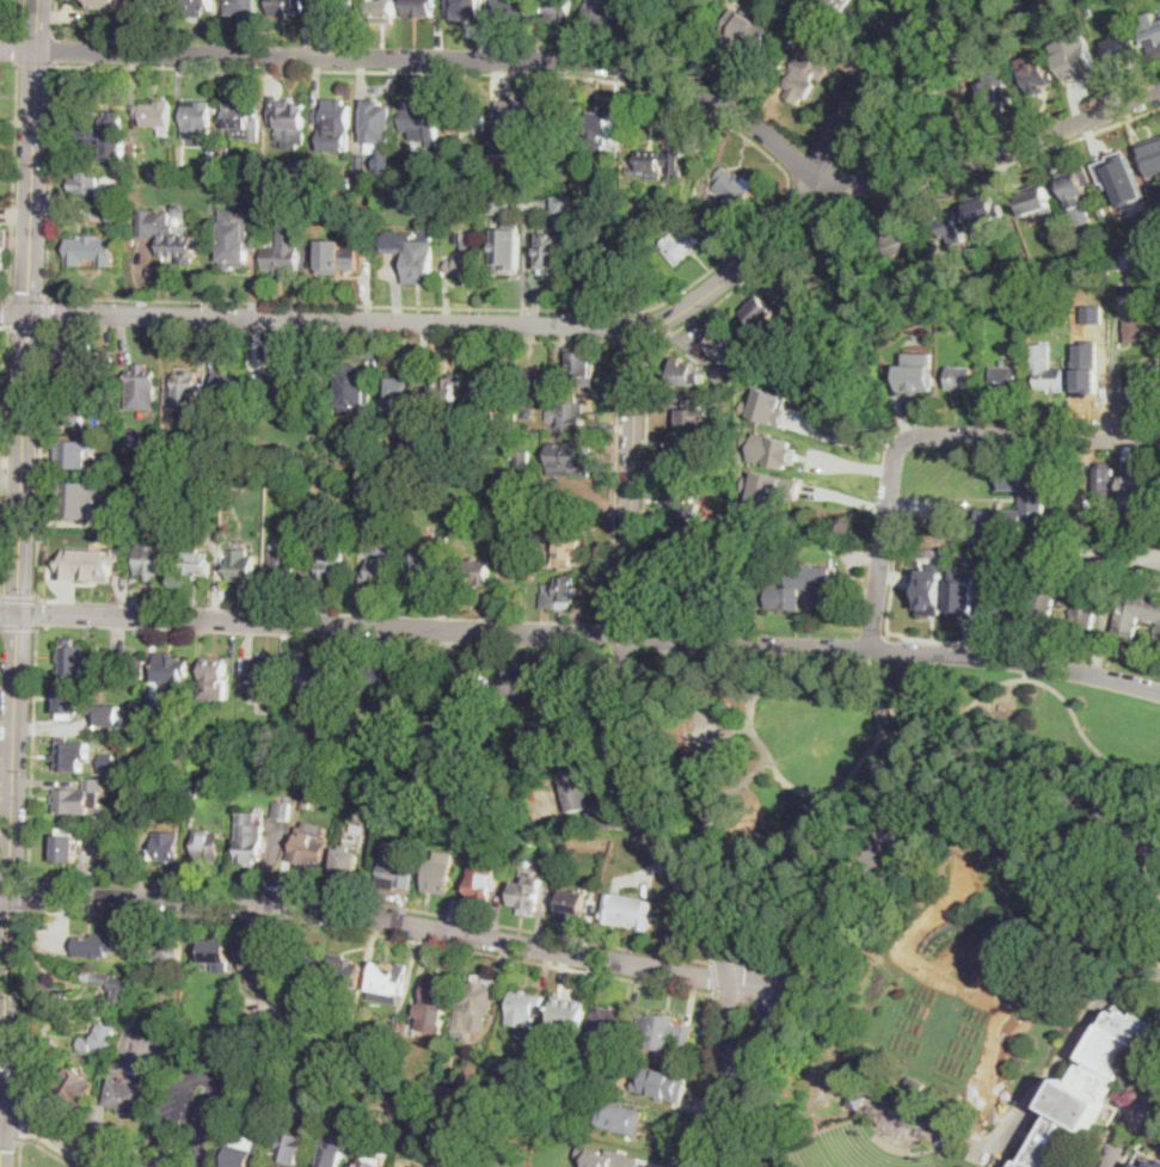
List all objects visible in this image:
building: (847, 0)
building: (1054, 0)
building: (1044, 1)
building: (105, 4)
building: (161, 5)
building: (243, 6)
building: (198, 7)
building: (287, 7)
building: (381, 7)
building: (422, 7)
building: (331, 8)
building: (469, 8)
building: (511, 10)
building: (560, 10)
building: (600, 16)
road: (20, 17)
road: (56, 17)
building: (649, 24)
building: (747, 30)
building: (1152, 32)
building: (1122, 45)
building: (992, 47)
road: (56, 48)
road: (19, 49)
road: (424, 57)
building: (1081, 63)
building: (808, 67)
building: (1038, 79)
road: (939, 82)
road: (858, 84)
road: (921, 97)
building: (995, 97)
building: (156, 116)
building: (290, 118)
building: (198, 119)
building: (335, 119)
building: (419, 119)
building: (243, 121)
building: (511, 121)
building: (466, 122)
building: (379, 125)
building: (553, 127)
building: (600, 133)
building: (105, 137)
building: (134, 151)
building: (213, 152)
road: (990, 153)
building: (180, 154)
building: (223, 154)
road: (32, 156)
building: (1153, 160)
building: (662, 164)
road: (996, 167)
building: (362, 170)
building: (449, 172)
building: (293, 176)
road: (51, 179)
building: (499, 179)
road: (14, 180)
building: (382, 182)
road: (833, 182)
building: (87, 183)
building: (346, 183)
building: (465, 186)
building: (1075, 186)
building: (734, 189)
building: (253, 194)
road: (786, 194)
building: (708, 197)
road: (805, 197)
building: (299, 202)
building: (1037, 202)
building: (501, 204)
building: (564, 207)
building: (178, 208)
building: (984, 209)
building: (116, 214)
building: (1141, 222)
building: (950, 227)
building: (166, 235)
building: (1156, 239)
building: (900, 241)
building: (2, 242)
building: (679, 246)
building: (851, 246)
building: (509, 247)
building: (233, 248)
building: (91, 250)
building: (553, 250)
building: (282, 253)
building: (413, 254)
building: (335, 258)
building: (468, 260)
building: (1121, 262)
building: (1041, 269)
building: (603, 272)
building: (1025, 274)
building: (791, 285)
building: (959, 296)
road: (29, 297)
road: (10, 312)
road: (47, 312)
building: (760, 312)
road: (13, 314)
traffic signals: (29, 314)
road: (337, 321)
road: (5, 326)
road: (27, 327)
building: (1144, 328)
building: (725, 348)
building: (72, 355)
building: (978, 355)
building: (109, 357)
building: (583, 367)
building: (1047, 369)
road: (649, 371)
building: (687, 374)
building: (916, 374)
road: (1116, 374)
building: (533, 377)
building: (960, 377)
building: (895, 379)
building: (1004, 379)
road: (620, 382)
building: (1090, 382)
building: (227, 386)
building: (142, 388)
building: (183, 389)
building: (352, 389)
building: (288, 391)
building: (447, 392)
road: (6, 393)
building: (495, 394)
building: (401, 395)
building: (1148, 395)
building: (768, 405)
building: (72, 410)
building: (528, 412)
building: (569, 414)
building: (694, 414)
road: (1032, 434)
building: (134, 437)
road: (848, 441)
building: (501, 442)
building: (769, 449)
building: (73, 454)
building: (523, 459)
building: (570, 460)
road: (41, 462)
building: (683, 462)
road: (4, 463)
road: (11, 463)
road: (22, 463)
building: (459, 463)
building: (113, 469)
building: (141, 472)
building: (164, 479)
building: (189, 479)
building: (1105, 480)
building: (1141, 483)
building: (772, 487)
building: (79, 499)
building: (1033, 499)
building: (1087, 503)
building: (688, 506)
building: (362, 517)
building: (118, 520)
building: (318, 526)
road: (1, 533)
road: (882, 540)
building: (243, 543)
building: (444, 543)
building: (567, 547)
road: (628, 547)
building: (194, 555)
building: (153, 559)
building: (88, 563)
building: (333, 564)
building: (241, 565)
building: (425, 567)
building: (283, 570)
building: (380, 572)
building: (475, 573)
building: (933, 586)
building: (706, 588)
building: (559, 594)
building: (975, 595)
building: (785, 596)
road: (18, 598)
building: (1067, 598)
road: (324, 610)
building: (1138, 612)
road: (8, 613)
road: (36, 613)
road: (626, 624)
road: (17, 627)
road: (891, 632)
building: (1159, 634)
road: (590, 635)
road: (613, 637)
road: (642, 638)
road: (627, 651)
road: (706, 655)
building: (70, 657)
building: (136, 668)
road: (870, 668)
building: (171, 669)
building: (319, 677)
building: (370, 677)
building: (215, 678)
road: (1033, 678)
building: (268, 680)
building: (418, 680)
building: (522, 682)
road: (821, 682)
building: (473, 684)
building: (70, 704)
building: (884, 704)
building: (185, 725)
road: (742, 730)
park: (710, 733)
building: (67, 755)
park: (855, 760)
building: (109, 763)
road: (756, 767)
building: (575, 785)
building: (152, 788)
building: (194, 788)
building: (726, 788)
building: (79, 797)
road: (947, 798)
building: (308, 800)
road: (700, 806)
building: (282, 810)
building: (510, 810)
building: (357, 827)
building: (250, 840)
building: (207, 844)
building: (66, 846)
building: (166, 847)
road: (8, 848)
building: (309, 848)
road: (894, 855)
building: (346, 865)
building: (398, 870)
building: (441, 873)
road: (14, 880)
building: (483, 883)
road: (4, 895)
road: (30, 895)
building: (527, 895)
building: (572, 905)
road: (13, 910)
building: (628, 910)
road: (815, 919)
road: (399, 921)
building: (97, 945)
road: (462, 950)
building: (167, 951)
building: (213, 952)
building: (1008, 956)
road: (698, 958)
building: (259, 963)
building: (305, 963)
road: (734, 963)
building: (344, 970)
road: (799, 975)
road: (716, 977)
road: (792, 981)
building: (388, 983)
road: (754, 983)
building: (116, 985)
road: (25, 996)
building: (437, 996)
building: (227, 1003)
building: (474, 1005)
park: (972, 1006)
building: (526, 1008)
building: (570, 1013)
building: (295, 1015)
building: (351, 1018)
building: (610, 1022)
road: (754, 1026)
building: (394, 1028)
building: (663, 1031)
building: (406, 1037)
building: (97, 1038)
road: (754, 1046)
traffic signals: (5, 1054)
road: (1062, 1057)
building: (260, 1067)
road: (11, 1071)
road: (726, 1076)
road: (211, 1079)
building: (664, 1082)
building: (915, 1083)
building: (76, 1087)
building: (1092, 1087)
road: (1, 1089)
building: (651, 1093)
building: (436, 1094)
building: (127, 1095)
building: (587, 1097)
road: (4, 1099)
building: (857, 1100)
traffic signals: (29, 1101)
building: (405, 1106)
road: (1124, 1106)
road: (22, 1110)
building: (620, 1117)
road: (716, 1117)
road: (1131, 1118)
road: (96, 1125)
road: (74, 1128)
building: (938, 1134)
road: (751, 1135)
road: (1141, 1135)
road: (2, 1140)
road: (51, 1140)
road: (10, 1142)
road: (717, 1145)
traffic signals: (1, 1149)
building: (293, 1149)
road: (49, 1150)
building: (248, 1150)
building: (332, 1150)
road: (19, 1151)
building: (569, 1153)
building: (599, 1156)
road: (161, 1157)
building: (373, 1161)
building: (502, 1162)
building: (1153, 1163)
building: (417, 1165)

